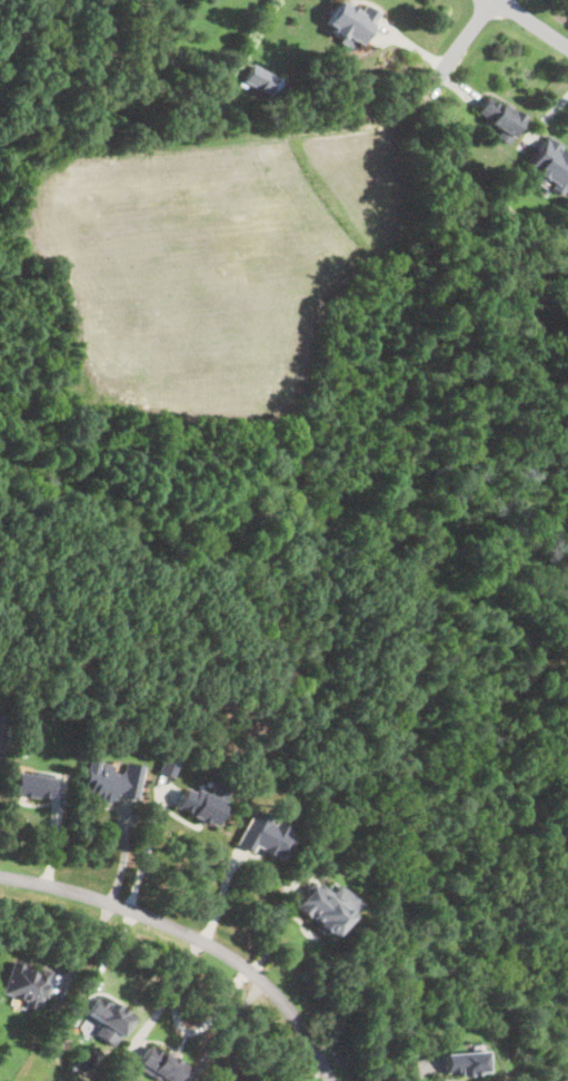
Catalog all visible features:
road: (532, 22)
building: (351, 24)
road: (450, 58)
building: (260, 78)
road: (545, 118)
building: (500, 119)
building: (550, 165)
building: (183, 706)
building: (2, 729)
building: (168, 768)
building: (211, 778)
building: (112, 783)
building: (33, 786)
building: (203, 805)
building: (266, 837)
road: (146, 855)
building: (326, 906)
road: (193, 935)
road: (83, 951)
road: (114, 956)
building: (27, 985)
road: (178, 994)
building: (109, 1016)
road: (222, 1031)
building: (465, 1062)
building: (160, 1065)
road: (422, 1071)

